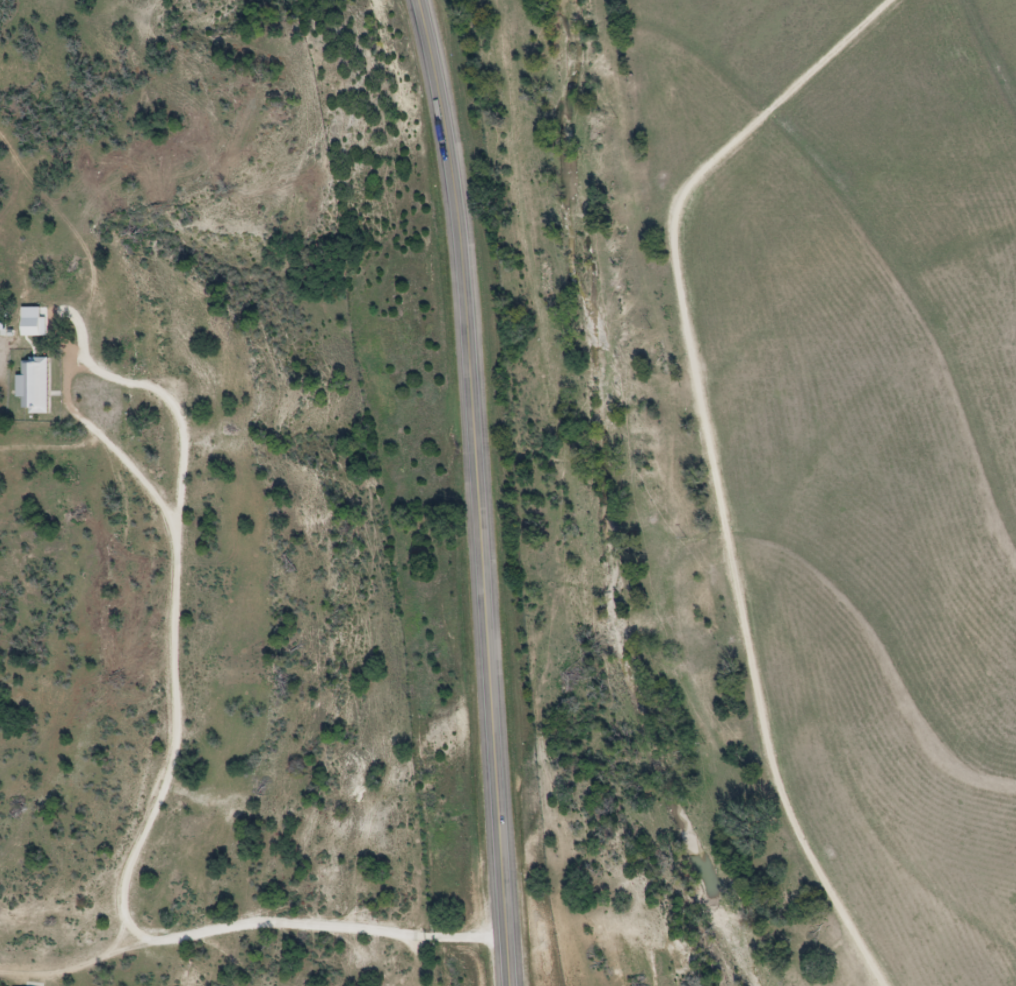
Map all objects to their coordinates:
building: (37, 384)
road: (491, 490)
road: (148, 844)

